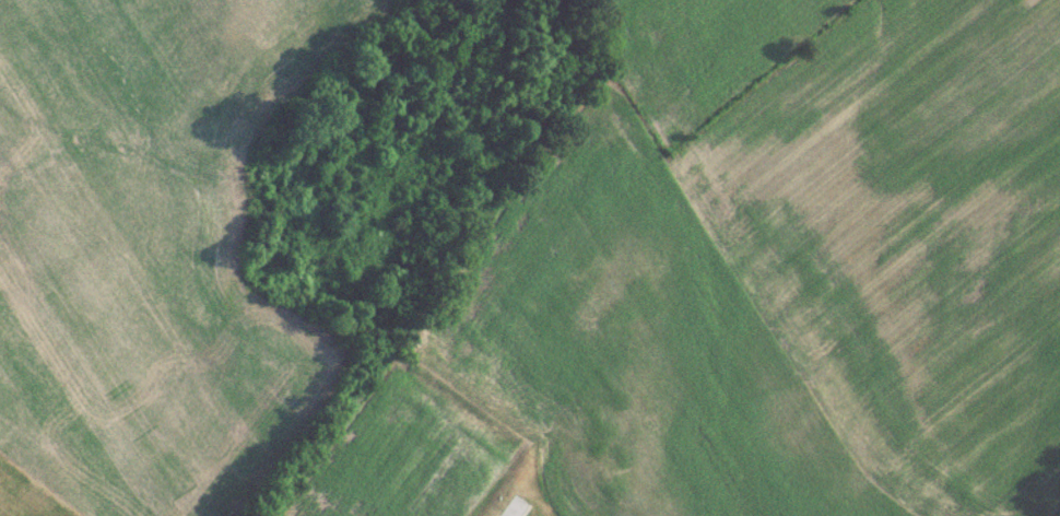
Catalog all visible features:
crop: (882, 212)
crop: (149, 250)
crop: (591, 367)
road: (510, 513)

